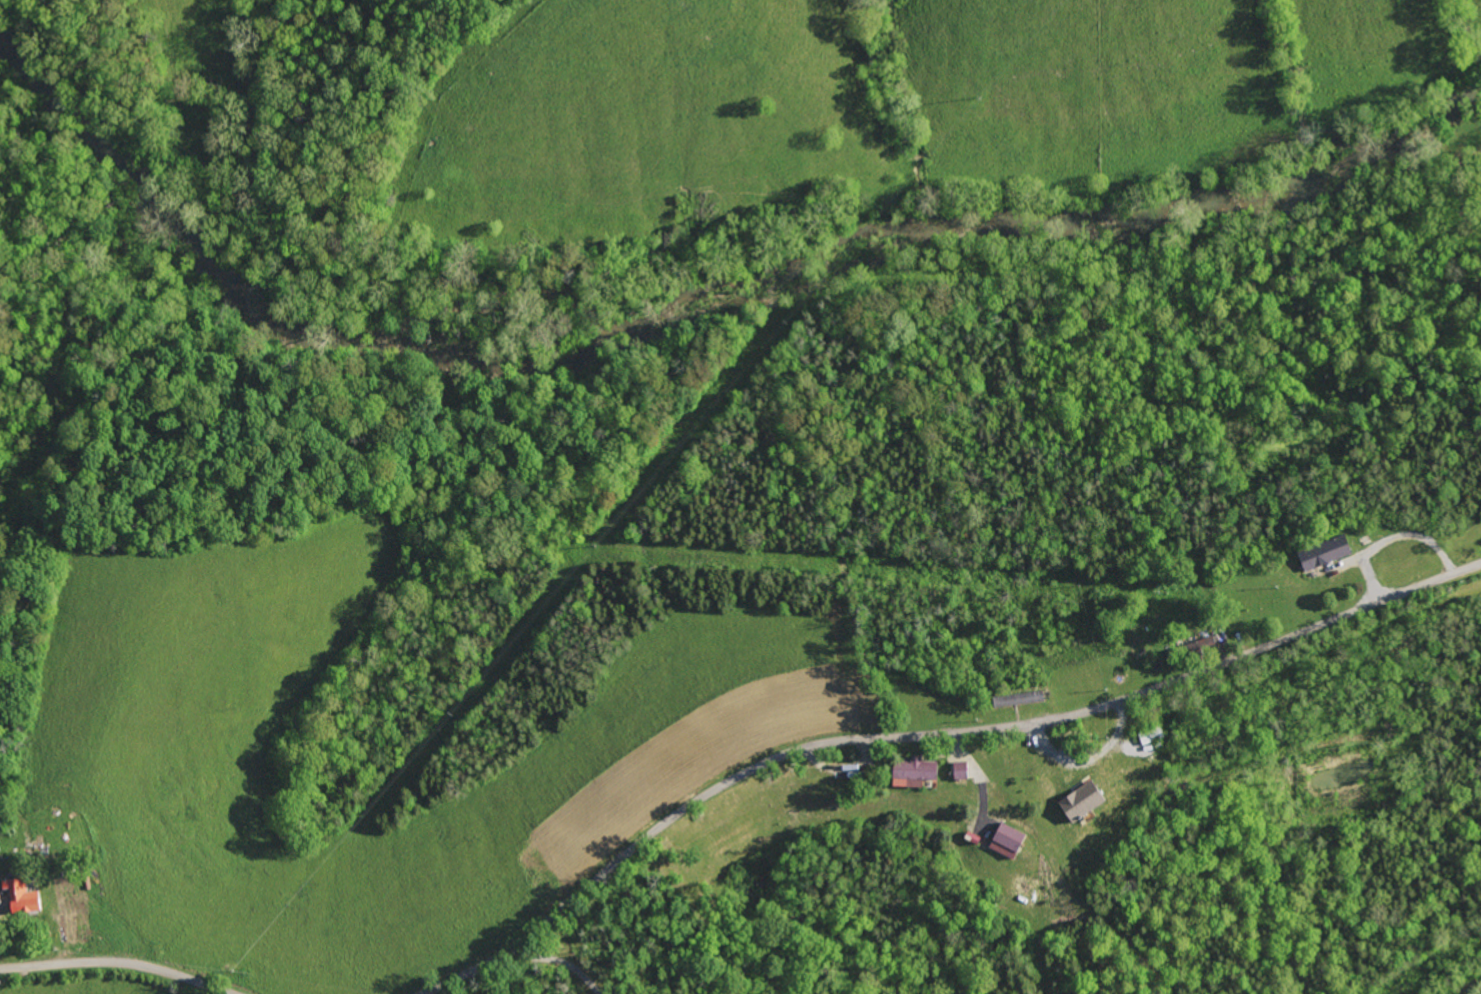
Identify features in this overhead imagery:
road: (1390, 537)
building: (1319, 553)
building: (1198, 649)
building: (1014, 699)
road: (929, 735)
building: (956, 770)
building: (910, 772)
building: (1076, 802)
building: (1001, 841)
building: (17, 896)
road: (556, 963)
road: (115, 964)

